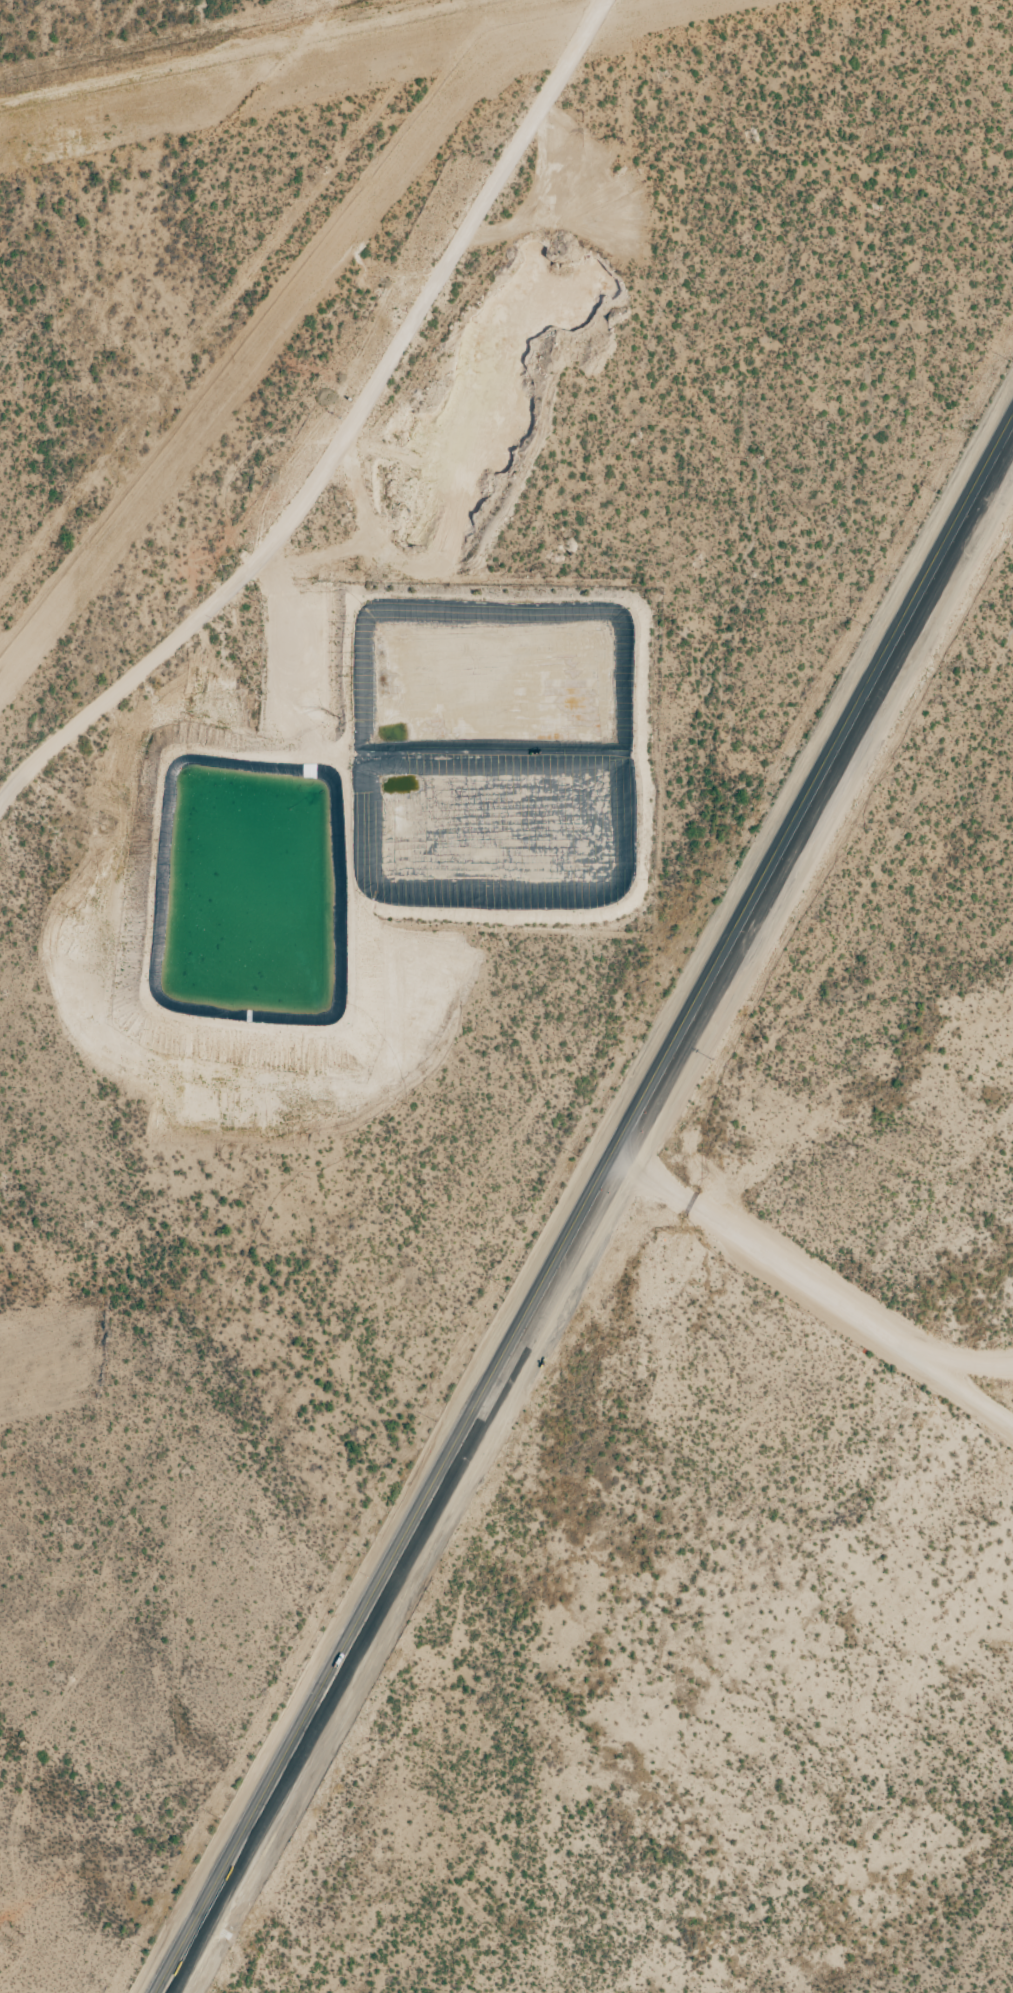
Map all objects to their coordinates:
road: (371, 470)
road: (588, 1209)

